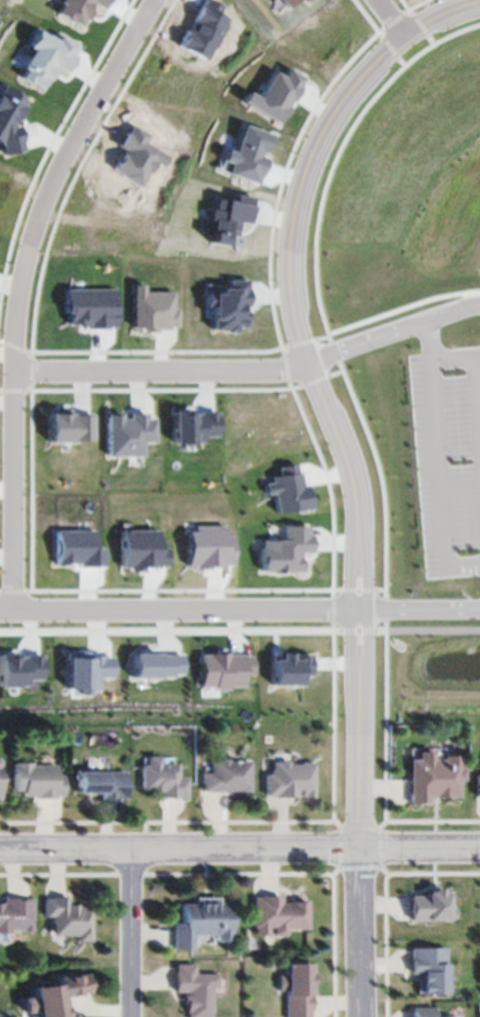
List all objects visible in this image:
building: (308, 1)
building: (289, 3)
building: (76, 10)
road: (390, 14)
building: (45, 58)
building: (274, 96)
building: (9, 122)
building: (247, 156)
building: (230, 220)
road: (18, 290)
building: (91, 308)
building: (231, 308)
building: (156, 310)
road: (303, 323)
road: (396, 329)
road: (430, 338)
road: (165, 371)
road: (436, 416)
building: (71, 427)
building: (195, 427)
building: (130, 435)
parking lot: (449, 456)
building: (289, 491)
building: (210, 548)
building: (78, 549)
building: (142, 551)
building: (286, 551)
road: (178, 609)
road: (418, 610)
road: (239, 631)
building: (159, 666)
building: (290, 669)
building: (20, 670)
building: (89, 671)
building: (225, 671)
building: (0, 774)
building: (225, 774)
building: (433, 775)
building: (160, 776)
building: (35, 778)
building: (290, 778)
building: (100, 782)
building: (478, 785)
road: (239, 852)
road: (357, 872)
building: (429, 905)
building: (14, 913)
building: (279, 913)
building: (67, 917)
building: (200, 923)
road: (129, 935)
building: (429, 967)
building: (195, 988)
building: (299, 988)
building: (54, 996)
building: (429, 1012)

